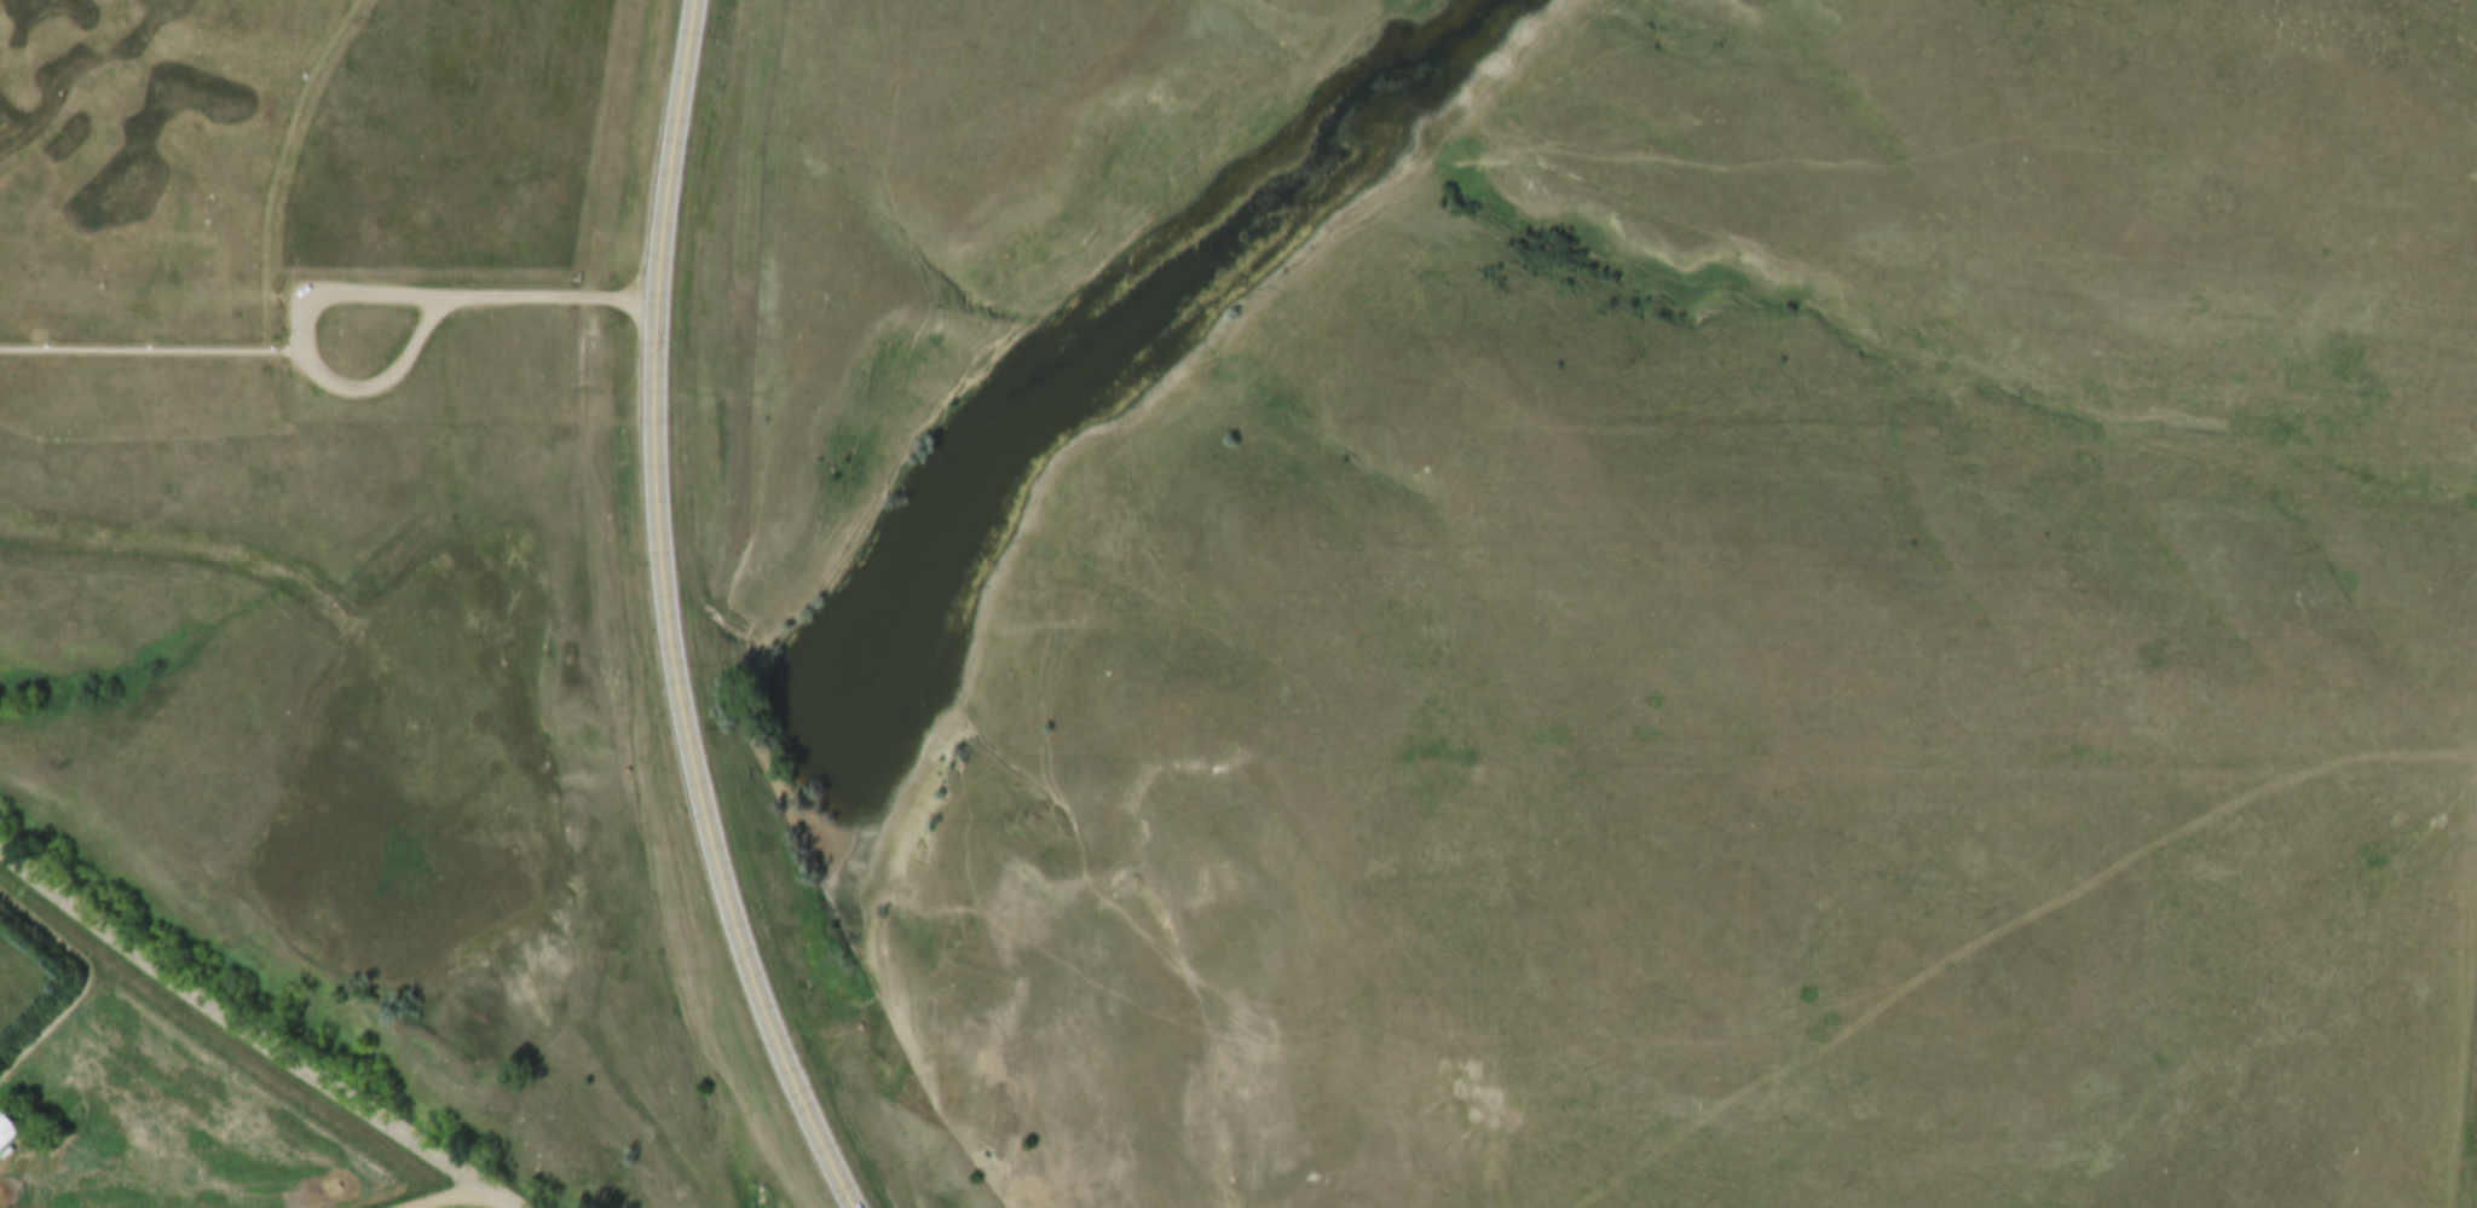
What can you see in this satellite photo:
road: (308, 112)
road: (428, 297)
road: (156, 349)
road: (369, 389)
road: (670, 617)
road: (239, 1050)
road: (464, 1201)

